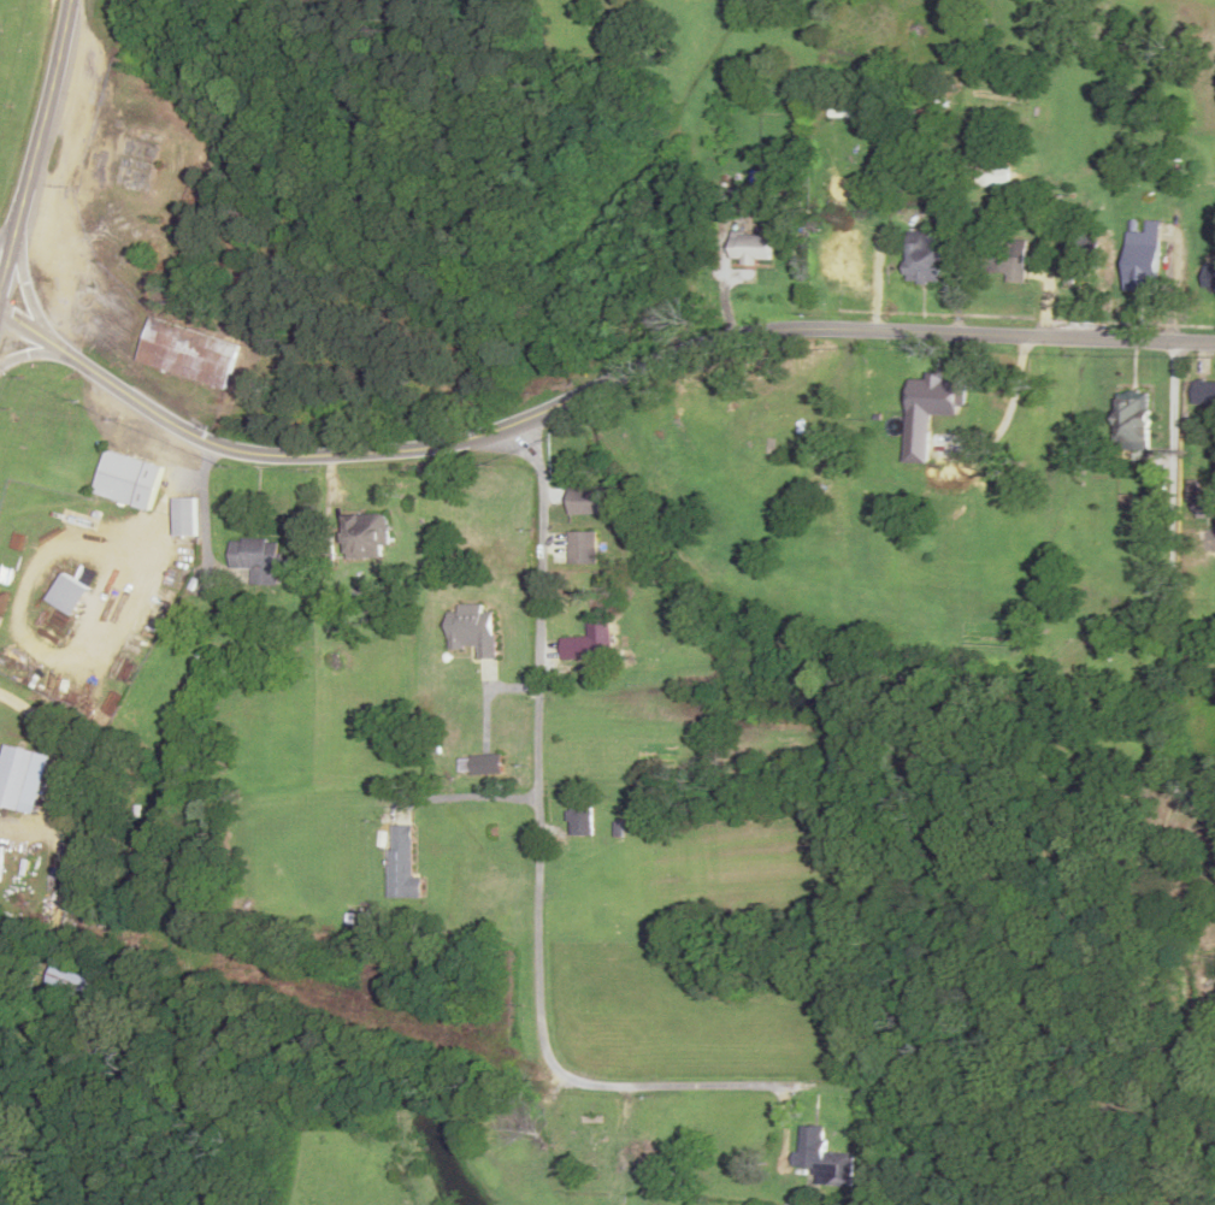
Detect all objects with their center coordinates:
road: (288, 100)
road: (34, 143)
building: (992, 172)
road: (8, 229)
building: (753, 248)
building: (1144, 253)
building: (841, 255)
building: (925, 258)
building: (1008, 259)
building: (1079, 260)
building: (1208, 277)
road: (28, 296)
road: (36, 353)
building: (187, 354)
road: (586, 390)
building: (1203, 395)
building: (928, 412)
building: (1132, 421)
building: (128, 480)
building: (584, 501)
building: (1208, 504)
building: (184, 518)
building: (366, 537)
building: (583, 549)
building: (256, 561)
building: (67, 595)
building: (472, 631)
building: (591, 643)
building: (480, 764)
building: (13, 775)
building: (580, 821)
building: (400, 861)
road: (538, 864)
building: (69, 982)
building: (591, 1133)
building: (824, 1158)

